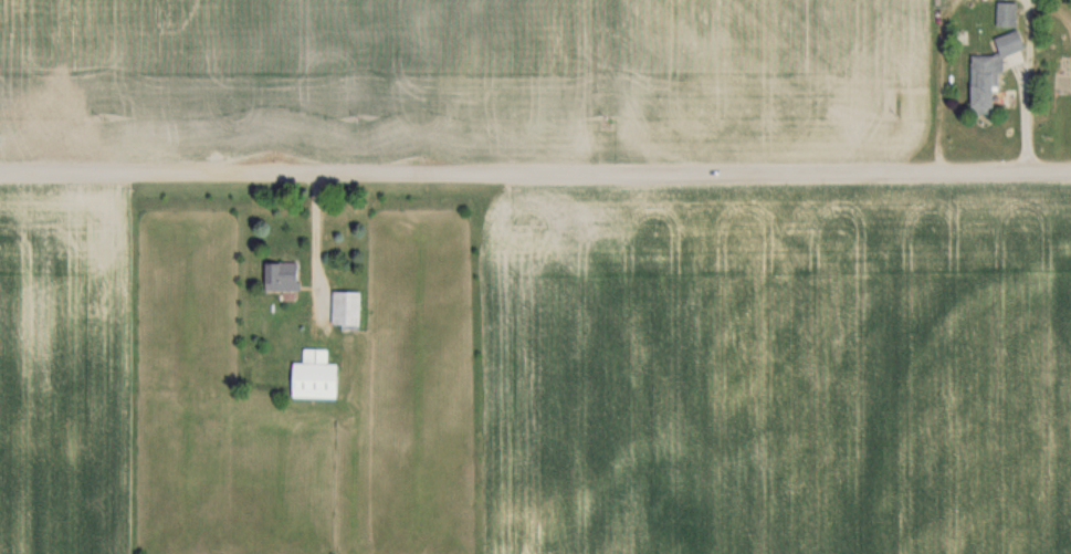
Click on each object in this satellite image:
building: (1005, 13)
building: (988, 70)
road: (535, 173)
building: (277, 275)
building: (343, 307)
building: (312, 375)

